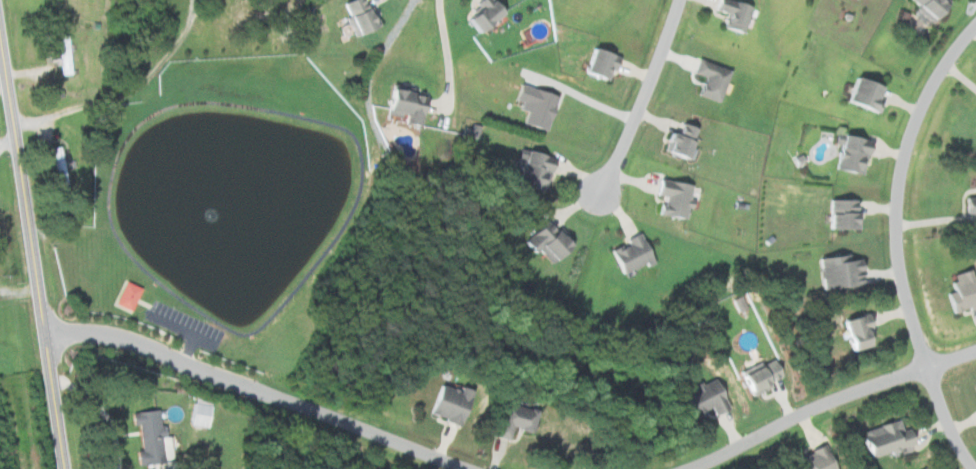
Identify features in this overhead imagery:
building: (926, 6)
building: (478, 14)
building: (729, 14)
building: (357, 15)
road: (446, 48)
building: (62, 55)
building: (596, 63)
building: (708, 79)
road: (583, 86)
road: (3, 89)
road: (115, 93)
building: (861, 95)
road: (640, 97)
building: (403, 105)
building: (532, 106)
road: (253, 108)
building: (676, 141)
building: (848, 155)
building: (57, 168)
building: (532, 171)
road: (897, 187)
building: (670, 198)
building: (970, 201)
building: (839, 215)
building: (543, 240)
building: (629, 254)
road: (31, 258)
building: (836, 272)
building: (959, 292)
building: (125, 296)
road: (179, 328)
building: (854, 331)
road: (186, 349)
building: (756, 377)
building: (975, 387)
road: (255, 391)
building: (702, 398)
road: (826, 400)
building: (445, 404)
road: (102, 409)
building: (197, 415)
building: (511, 420)
road: (945, 420)
building: (881, 439)
building: (811, 460)

